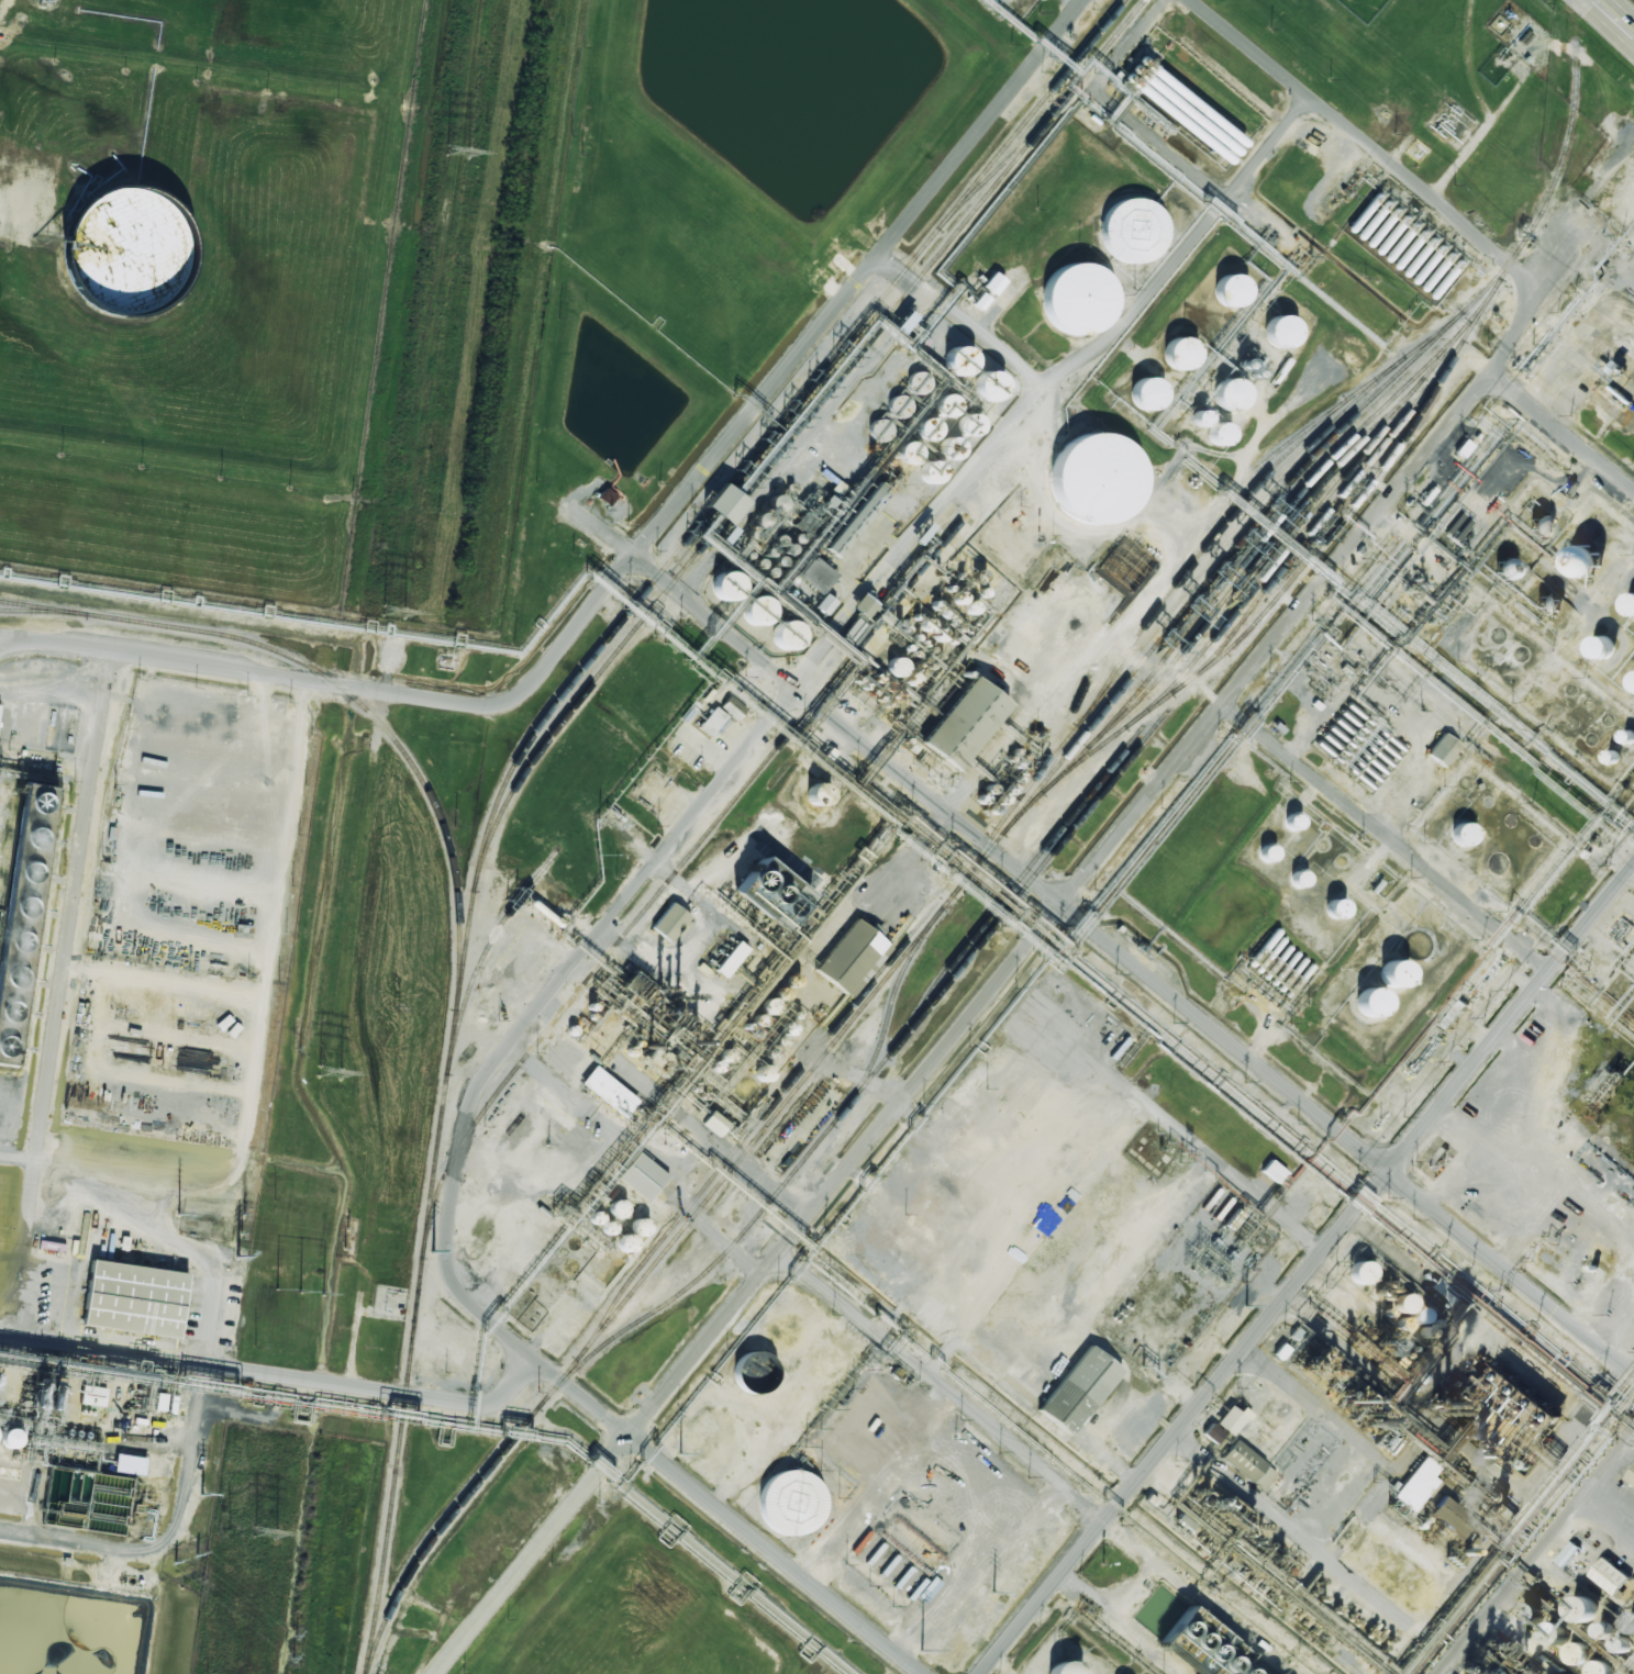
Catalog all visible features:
road: (1615, 15)
road: (1119, 109)
power tower: (457, 150)
railway: (1008, 156)
building: (1626, 214)
building: (1127, 228)
storage tank: (1127, 228)
building: (1391, 252)
building: (118, 254)
storage tank: (118, 254)
road: (856, 276)
building: (1416, 276)
building: (992, 282)
building: (1425, 284)
building: (1222, 292)
storage tank: (1222, 292)
building: (1070, 299)
storage tank: (1070, 299)
road: (957, 317)
building: (1272, 334)
storage tank: (1272, 334)
building: (1171, 356)
storage tank: (1171, 356)
building: (958, 360)
building: (989, 386)
building: (908, 393)
building: (1141, 394)
storage tank: (1141, 394)
building: (1222, 397)
storage tank: (1222, 397)
building: (1201, 417)
building: (880, 427)
road: (1561, 429)
railway: (791, 434)
building: (1219, 434)
building: (1464, 448)
building: (907, 453)
building: (1088, 482)
storage tank: (1088, 482)
building: (605, 495)
building: (724, 503)
building: (769, 510)
railway: (1320, 520)
building: (804, 521)
building: (1542, 526)
railway: (1266, 529)
railway: (1278, 534)
building: (841, 539)
railway: (1200, 553)
railway: (1278, 556)
building: (1134, 559)
building: (1583, 560)
railway: (1221, 561)
railway: (1205, 568)
building: (1507, 569)
building: (716, 582)
storage tank: (716, 582)
railway: (1271, 602)
building: (1627, 602)
storage tank: (1627, 602)
building: (825, 604)
building: (864, 605)
building: (1550, 605)
building: (970, 607)
building: (747, 610)
storage tank: (747, 610)
railway: (43, 611)
power tower: (392, 613)
building: (778, 634)
storage tank: (778, 634)
road: (1, 636)
building: (1593, 646)
storage tank: (1593, 646)
road: (1155, 659)
building: (890, 666)
storage tank: (890, 666)
building: (1632, 680)
storage tank: (1632, 680)
road: (348, 685)
railway: (341, 690)
road: (1227, 696)
building: (960, 718)
building: (713, 721)
railway: (525, 740)
building: (1443, 749)
building: (1612, 757)
building: (819, 795)
building: (1293, 822)
railway: (994, 832)
road: (1387, 835)
building: (1463, 835)
building: (1268, 851)
building: (1299, 879)
railway: (665, 883)
railway: (1009, 889)
building: (770, 891)
road: (626, 895)
building: (22, 905)
building: (1335, 908)
building: (670, 922)
road: (1104, 938)
building: (16, 942)
railway: (483, 952)
building: (847, 957)
building: (731, 959)
building: (1386, 976)
storage tank: (1386, 976)
building: (638, 989)
building: (1361, 1006)
storage tank: (1361, 1006)
building: (7, 1011)
railway: (888, 1012)
power tower: (329, 1072)
building: (765, 1073)
railway: (869, 1076)
building: (609, 1091)
railway: (756, 1112)
building: (705, 1123)
building: (540, 1167)
building: (1272, 1171)
building: (638, 1172)
building: (616, 1208)
building: (632, 1226)
storage tank: (632, 1226)
building: (608, 1228)
building: (620, 1243)
storage tank: (620, 1243)
road: (1307, 1269)
building: (1358, 1272)
building: (1445, 1292)
building: (130, 1296)
building: (1402, 1303)
building: (531, 1315)
building: (1420, 1315)
road: (273, 1368)
road: (198, 1382)
road: (942, 1385)
building: (1076, 1385)
building: (93, 1395)
building: (1491, 1398)
building: (1229, 1419)
building: (1212, 1433)
building: (4, 1441)
storage tank: (4, 1441)
building: (129, 1464)
building: (1247, 1465)
building: (1631, 1471)
building: (783, 1500)
storage tank: (783, 1500)
building: (1446, 1515)
power tower: (265, 1532)
building: (913, 1545)
road: (1535, 1552)
road: (527, 1554)
building: (1607, 1571)
building: (1583, 1608)
building: (1524, 1614)
storage tank: (1524, 1614)
building: (1151, 1617)
building: (1632, 1622)
building: (1604, 1630)
building: (1549, 1634)
storage tank: (1549, 1634)
building: (1197, 1637)
building: (1496, 1650)
building: (1571, 1651)
storage tank: (1571, 1651)
railway: (1399, 1654)
building: (1594, 1666)
storage tank: (1594, 1666)
building: (1056, 1670)
storage tank: (1056, 1670)

